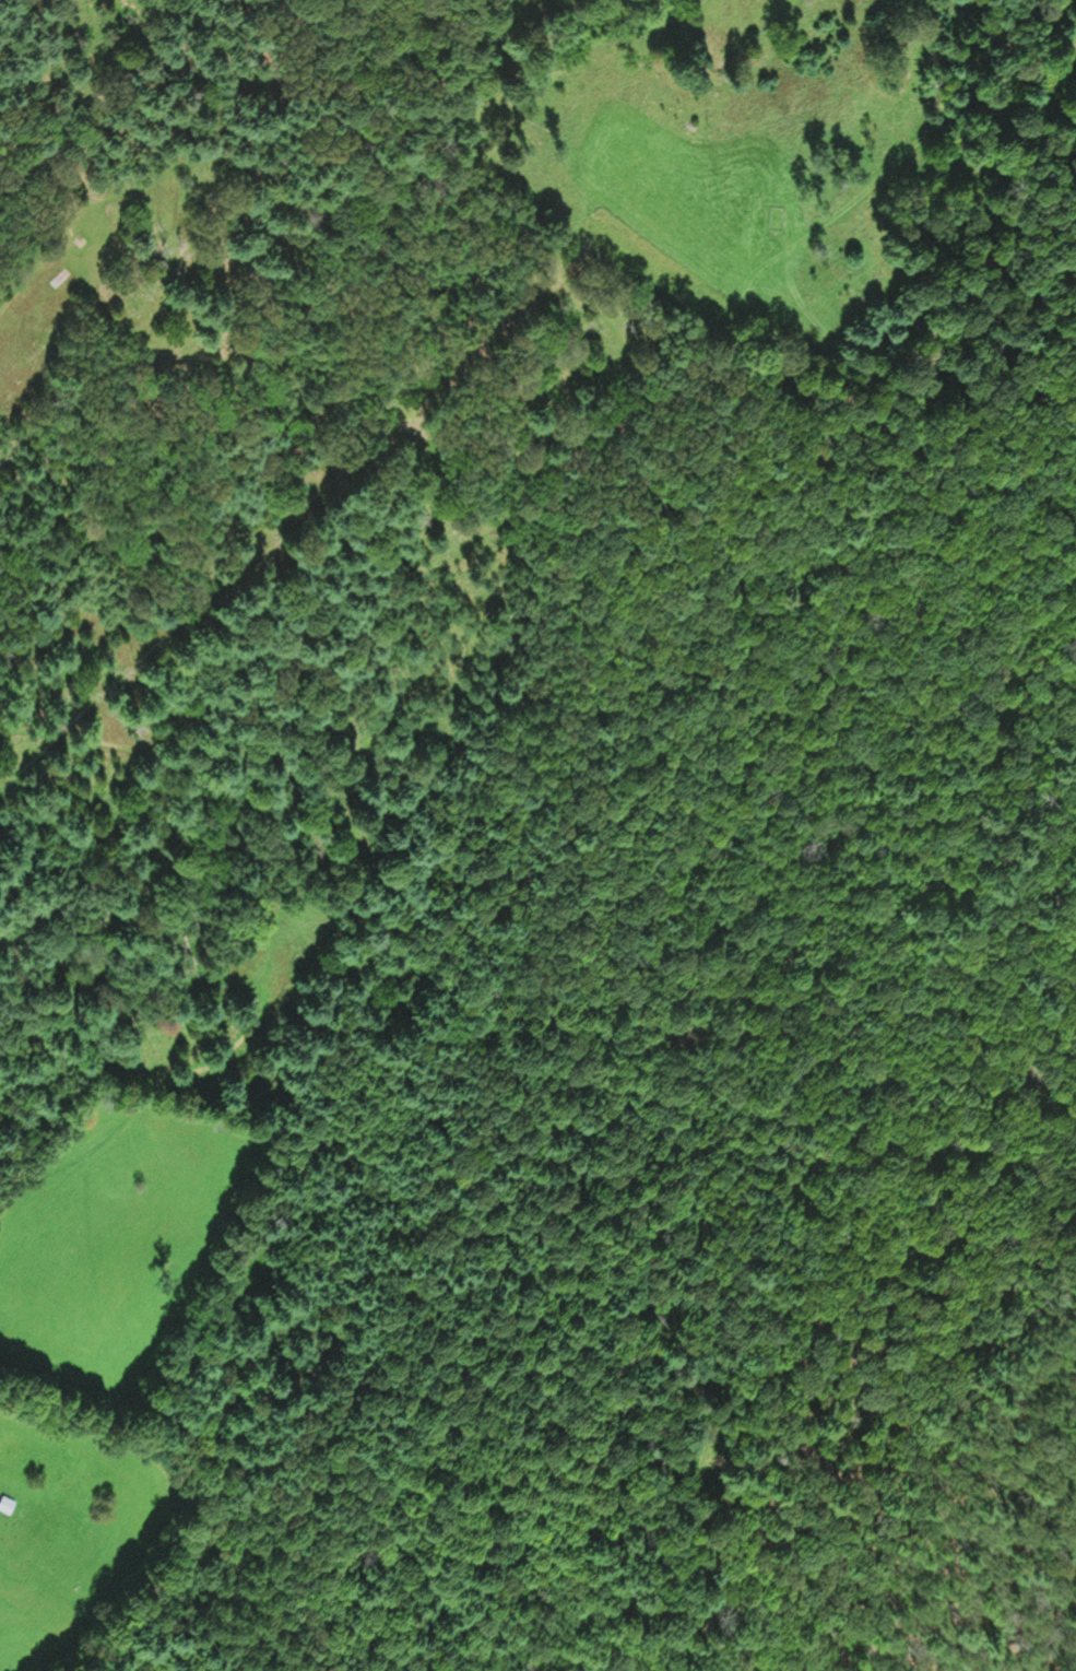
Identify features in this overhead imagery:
building: (8, 1503)

